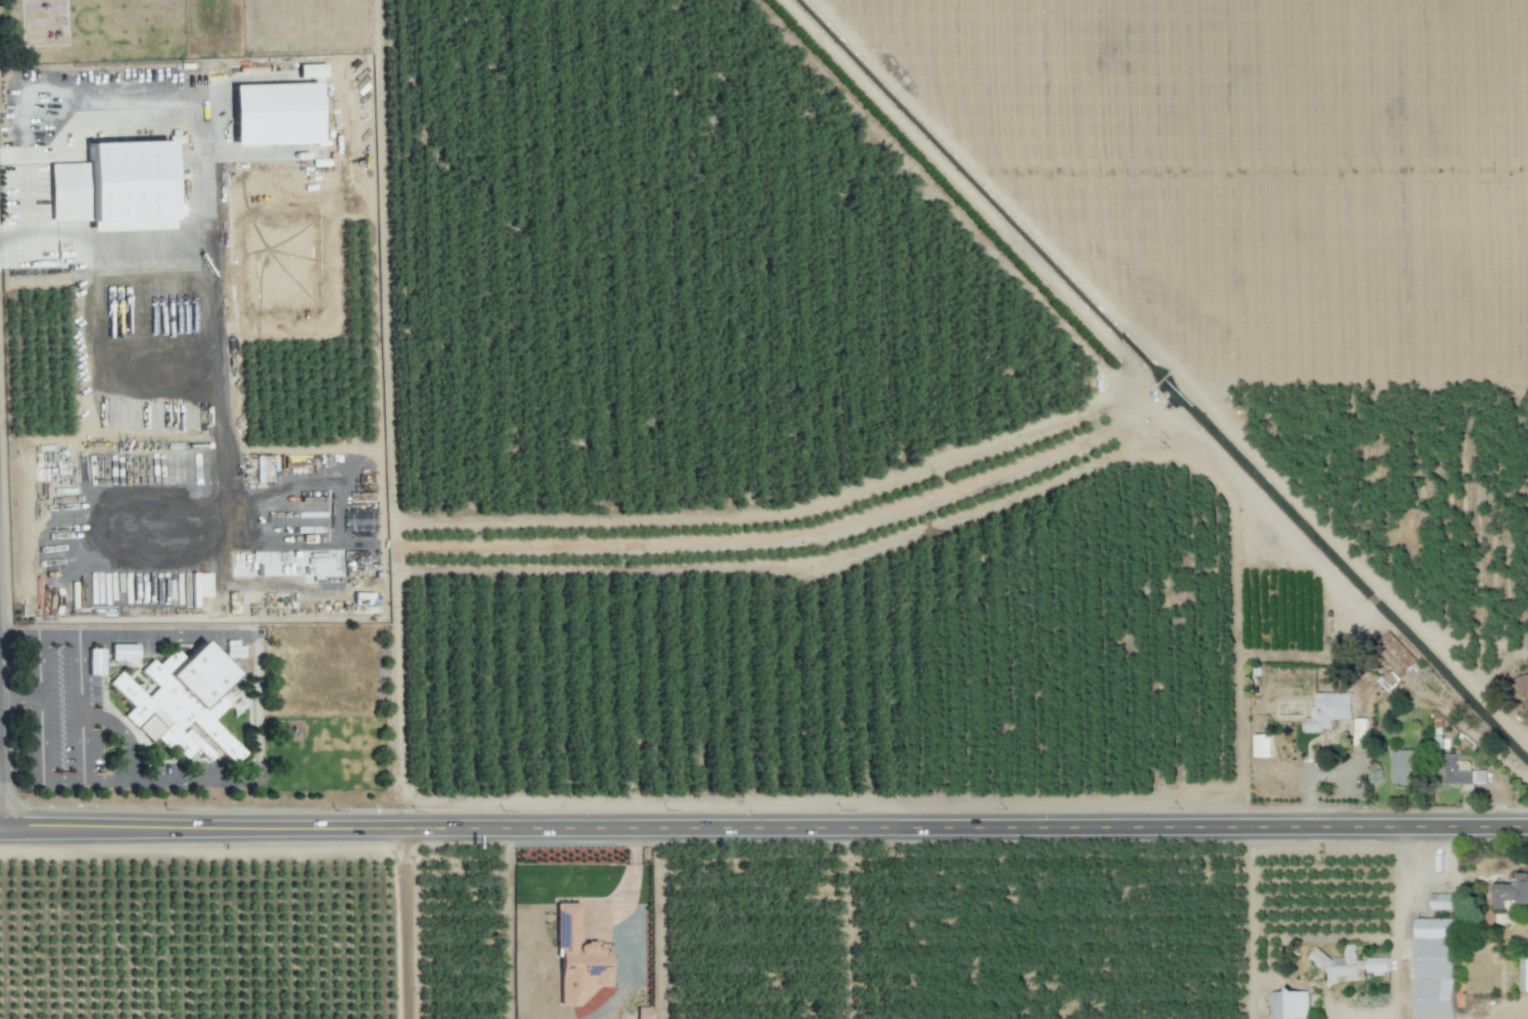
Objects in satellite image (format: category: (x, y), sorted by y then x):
building: (311, 70)
building: (275, 114)
building: (115, 187)
road: (24, 188)
road: (14, 246)
building: (195, 587)
road: (162, 635)
building: (234, 649)
building: (123, 652)
building: (1394, 659)
building: (95, 661)
road: (38, 664)
building: (1521, 684)
building: (181, 702)
building: (1526, 704)
building: (1329, 710)
building: (1359, 732)
road: (121, 734)
building: (1262, 745)
road: (82, 750)
building: (1404, 767)
building: (1458, 772)
road: (167, 778)
road: (0, 788)
road: (0, 827)
road: (764, 828)
building: (1511, 891)
building: (1443, 901)
road: (1252, 923)
road: (410, 924)
building: (579, 959)
building: (1339, 963)
building: (1377, 965)
building: (1435, 968)
building: (1523, 974)
building: (1289, 1004)
building: (643, 1012)

